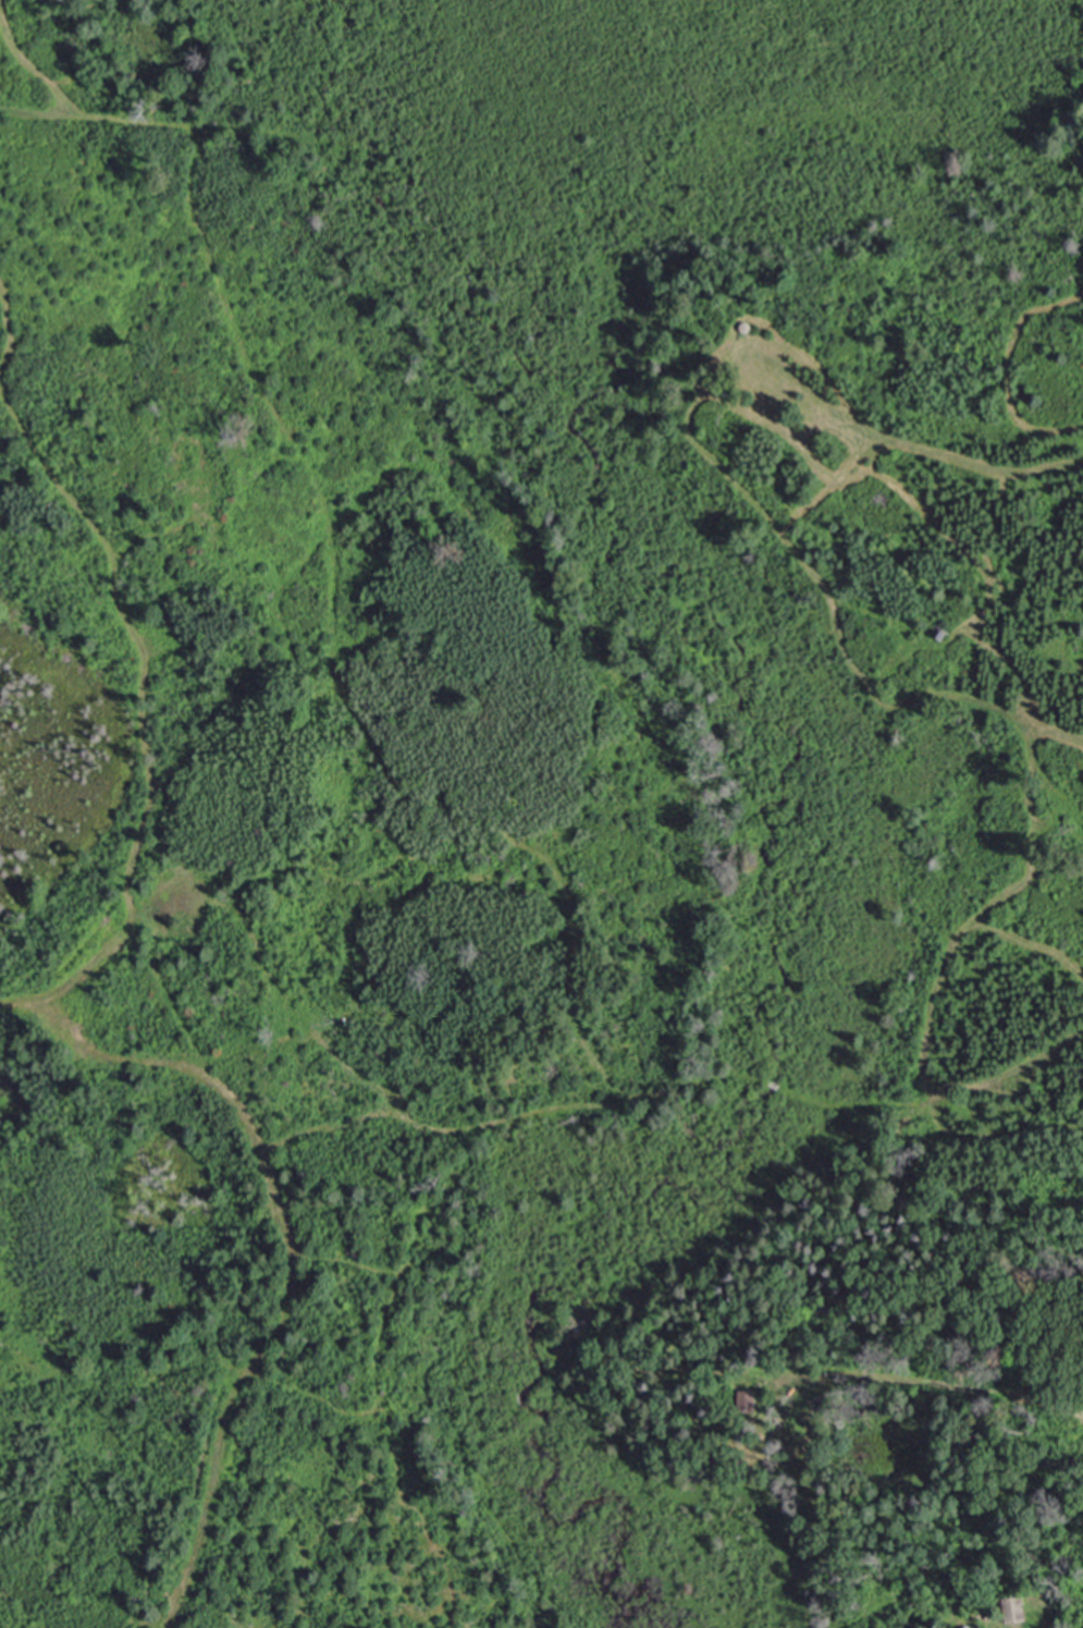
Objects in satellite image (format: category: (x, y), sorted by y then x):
road: (534, 1111)

